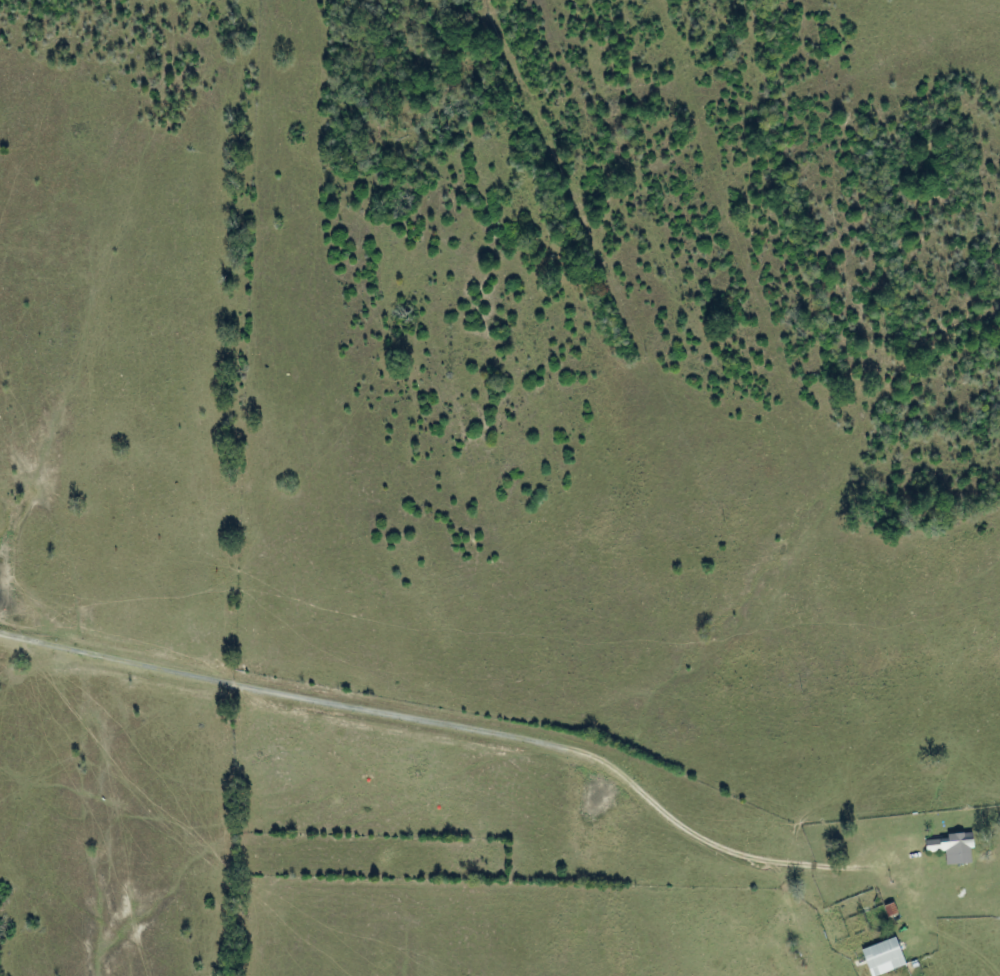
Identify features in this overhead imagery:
building: (888, 957)

